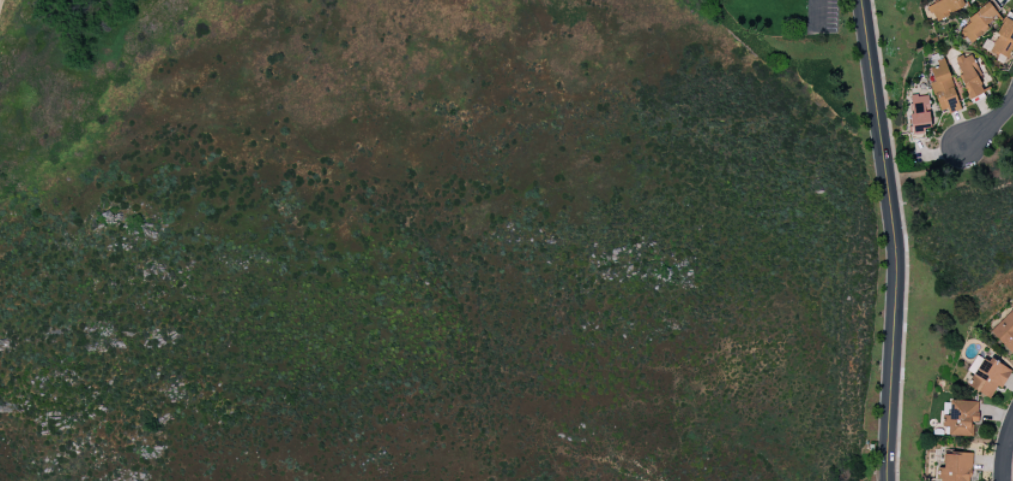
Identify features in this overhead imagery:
building: (944, 7)
road: (815, 14)
building: (977, 24)
building: (1004, 39)
building: (969, 75)
building: (943, 88)
building: (919, 115)
road: (991, 124)
road: (956, 158)
road: (950, 170)
road: (894, 239)
park: (407, 244)
building: (1005, 332)
building: (988, 377)
building: (961, 418)
road: (1005, 452)
building: (955, 467)

